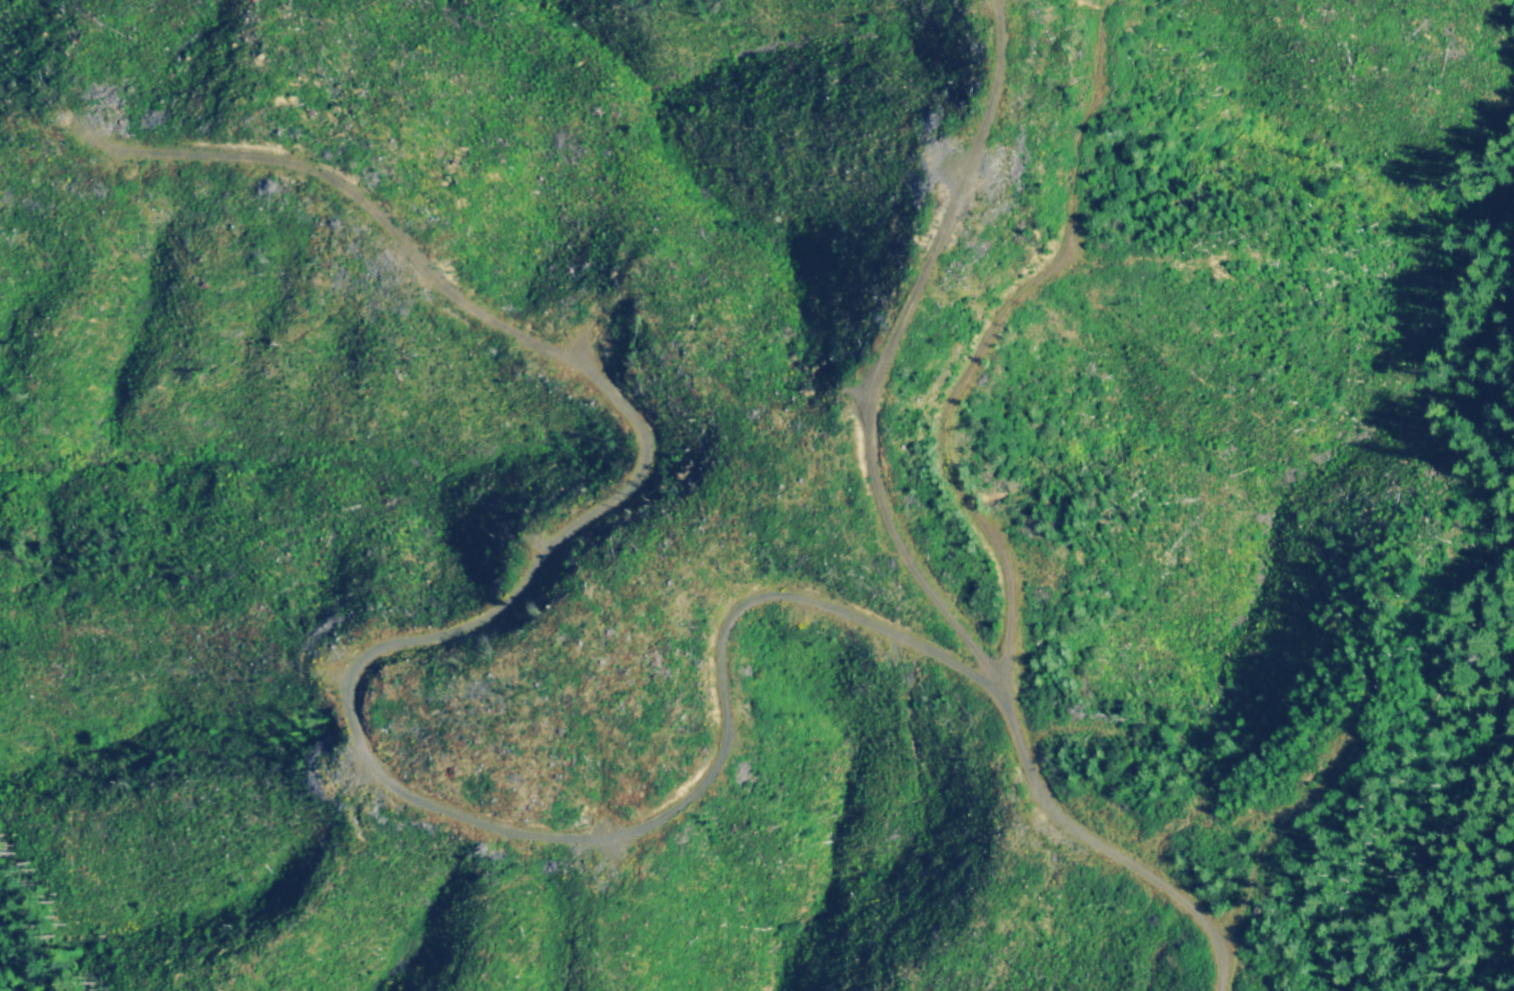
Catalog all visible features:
road: (911, 541)
road: (363, 663)

